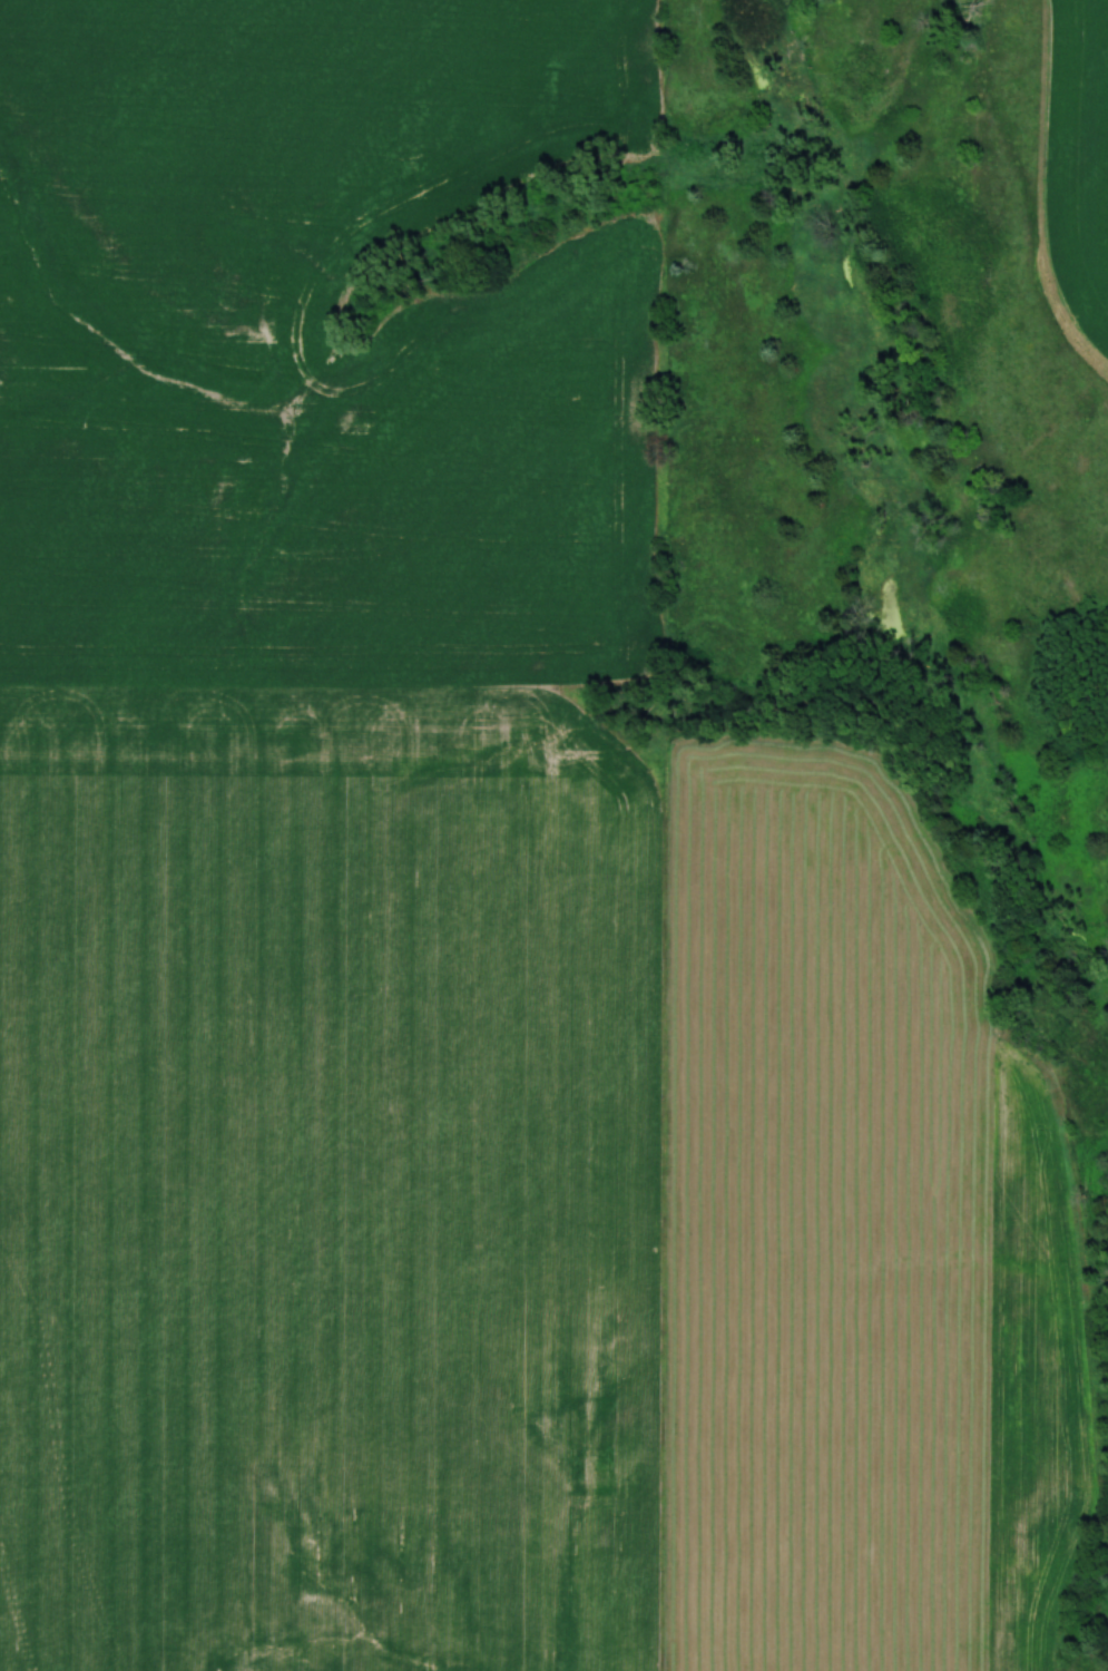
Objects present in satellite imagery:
crop: (314, 344)

